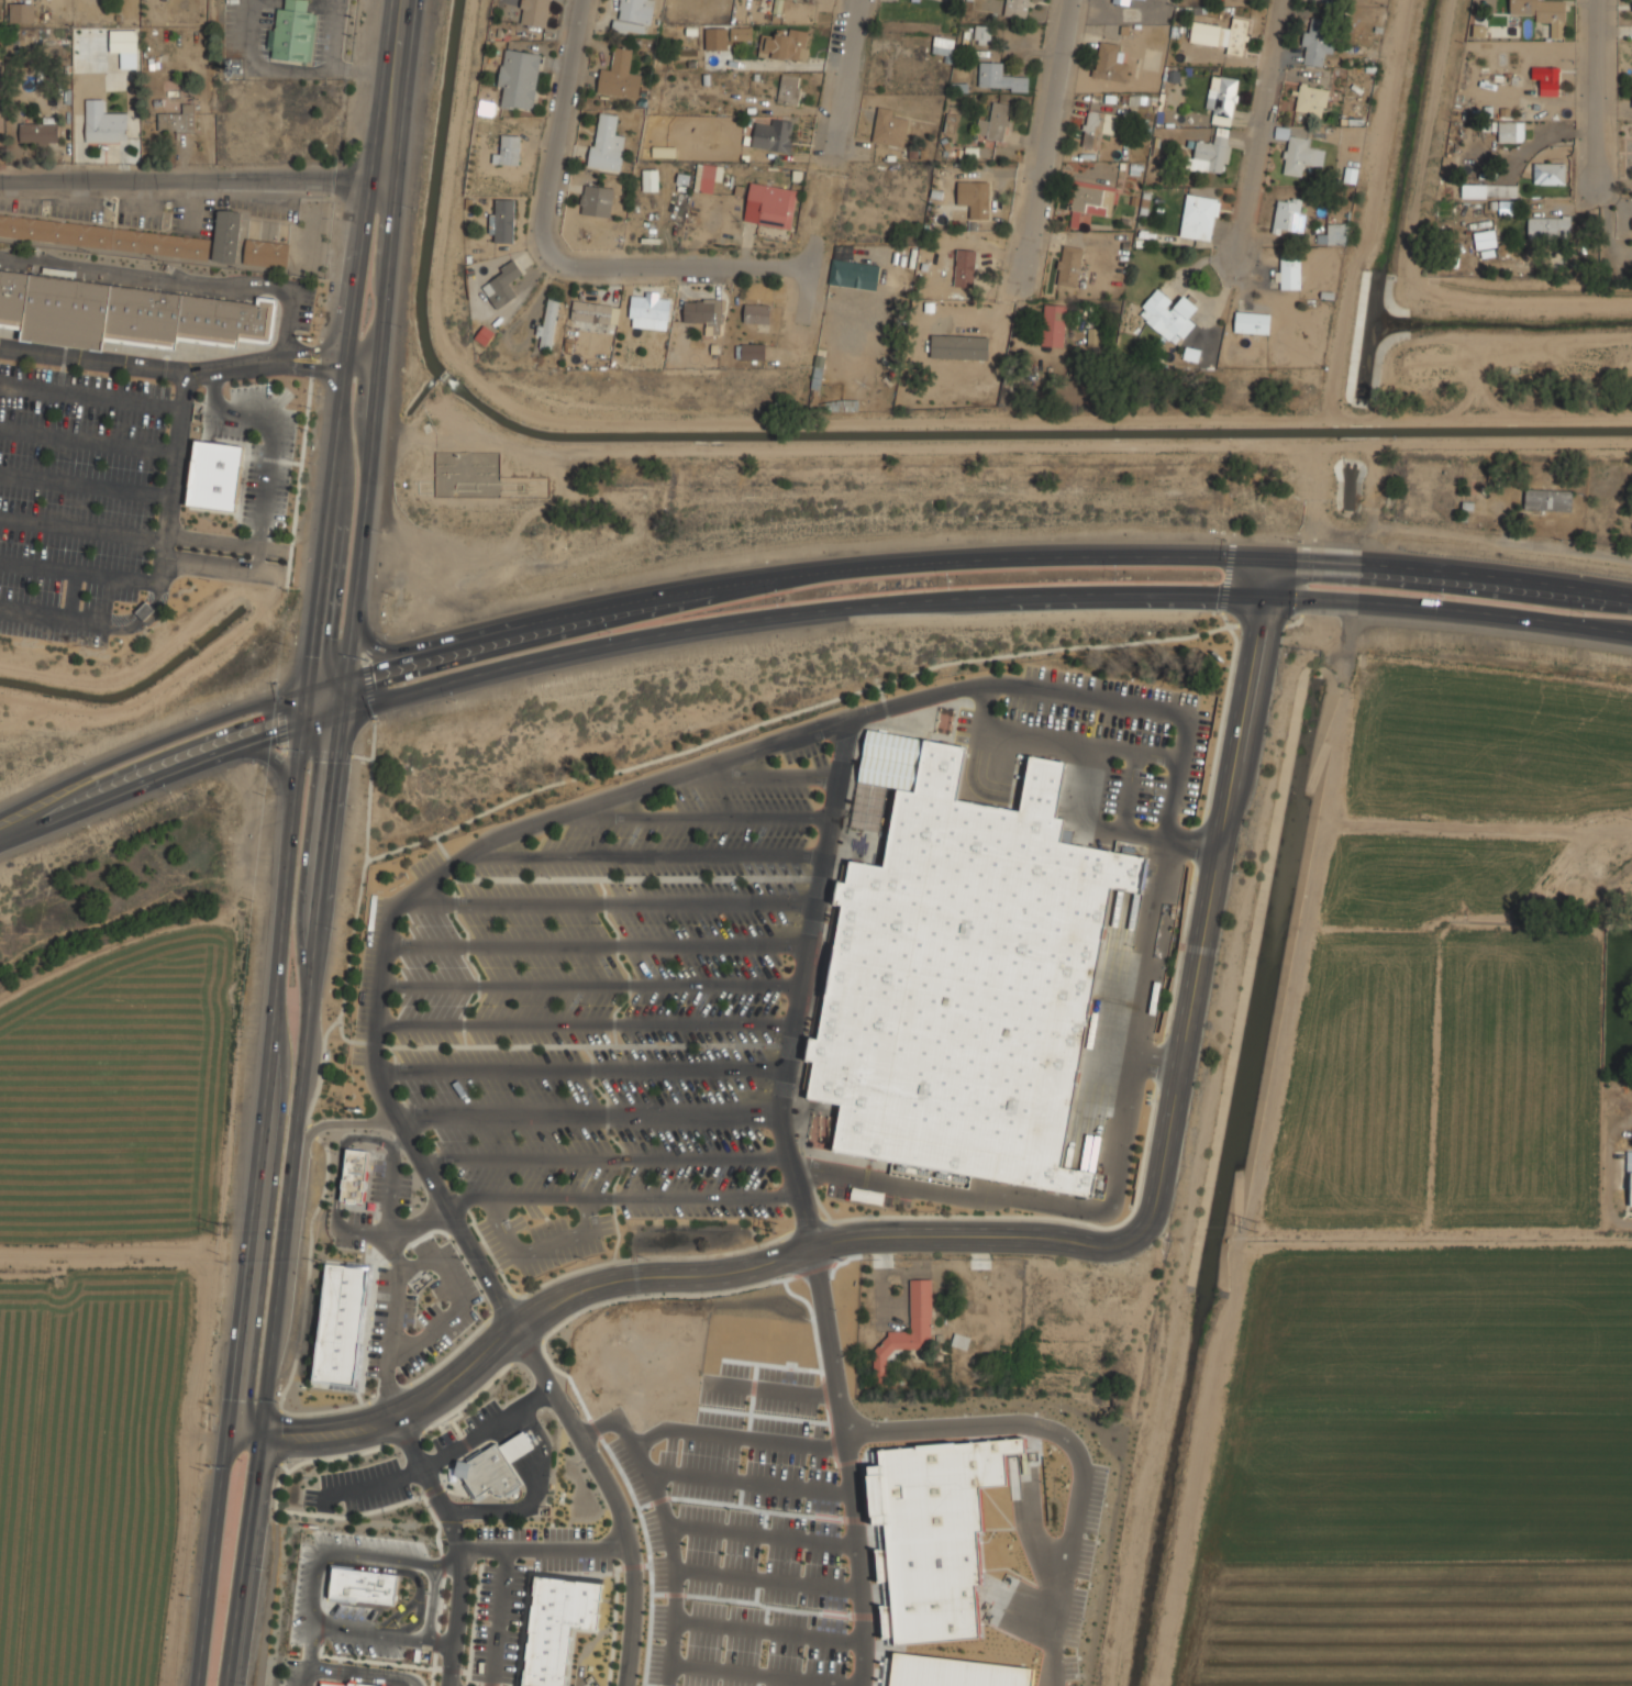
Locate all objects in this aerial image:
building: (914, 0)
building: (1121, 1)
building: (1017, 8)
building: (22, 11)
building: (534, 12)
building: (1543, 12)
building: (634, 15)
building: (293, 30)
building: (1204, 32)
building: (741, 33)
building: (982, 33)
building: (1237, 35)
building: (1317, 40)
building: (786, 44)
building: (943, 45)
building: (124, 46)
building: (1110, 62)
road: (569, 74)
building: (620, 75)
building: (1546, 75)
road: (844, 76)
building: (520, 77)
building: (1000, 77)
road: (390, 86)
building: (789, 88)
building: (1631, 95)
building: (1223, 97)
road: (1601, 97)
building: (1311, 100)
building: (176, 120)
building: (995, 121)
building: (890, 125)
building: (1099, 126)
road: (1048, 129)
building: (1507, 130)
building: (106, 131)
building: (37, 133)
building: (774, 134)
road: (1256, 134)
building: (606, 142)
building: (510, 147)
building: (1214, 149)
building: (1299, 152)
road: (190, 171)
building: (1550, 171)
building: (704, 178)
building: (650, 179)
building: (1489, 189)
building: (963, 192)
building: (1093, 197)
building: (979, 198)
building: (596, 199)
building: (773, 203)
building: (1506, 208)
building: (1199, 215)
building: (1288, 215)
building: (1075, 219)
building: (502, 220)
building: (1631, 223)
building: (1550, 226)
building: (1334, 233)
building: (130, 235)
building: (1485, 237)
building: (266, 252)
road: (635, 263)
building: (1068, 265)
building: (852, 268)
building: (964, 268)
building: (1288, 269)
road: (182, 279)
building: (501, 282)
building: (592, 311)
building: (650, 311)
building: (703, 311)
building: (756, 312)
building: (1168, 313)
building: (125, 314)
building: (548, 321)
building: (1252, 321)
building: (1054, 323)
building: (1092, 335)
building: (750, 351)
road: (304, 352)
building: (1190, 353)
road: (364, 356)
road: (62, 357)
road: (336, 357)
road: (304, 365)
road: (142, 367)
road: (164, 368)
road: (90, 398)
road: (373, 422)
road: (88, 442)
road: (335, 444)
road: (268, 453)
road: (269, 459)
road: (173, 469)
building: (214, 476)
road: (85, 484)
building: (1548, 499)
road: (81, 528)
road: (243, 545)
traffic signals: (1269, 556)
road: (242, 568)
road: (74, 569)
road: (1451, 570)
road: (156, 573)
road: (800, 573)
road: (1268, 575)
road: (70, 594)
traffic signals: (1267, 594)
road: (1450, 606)
building: (144, 610)
road: (146, 610)
road: (799, 612)
road: (53, 617)
road: (369, 644)
road: (371, 645)
traffic signals: (343, 675)
road: (326, 679)
traffic signals: (311, 684)
road: (368, 689)
road: (342, 692)
traffic signals: (342, 710)
parking lot: (1086, 713)
road: (324, 714)
road: (280, 716)
traffic signals: (307, 720)
road: (149, 743)
road: (1058, 743)
crop: (1490, 748)
road: (318, 753)
road: (277, 761)
road: (271, 764)
road: (766, 775)
road: (153, 778)
parking lot: (1152, 784)
road: (645, 788)
road: (1132, 791)
road: (699, 817)
road: (1089, 821)
road: (1378, 835)
road: (644, 856)
crop: (1433, 877)
road: (611, 900)
road: (1202, 916)
road: (596, 945)
building: (962, 968)
road: (803, 986)
road: (591, 987)
parking lot: (603, 1008)
road: (587, 1025)
building: (420, 1068)
road: (581, 1068)
road: (302, 1072)
crop: (1436, 1086)
crop: (121, 1096)
road: (592, 1118)
road: (401, 1143)
road: (342, 1156)
road: (608, 1160)
building: (354, 1175)
parking lot: (391, 1182)
road: (1115, 1184)
building: (1630, 1188)
parking lot: (871, 1190)
road: (390, 1196)
road: (624, 1197)
road: (256, 1202)
power tower: (774, 1227)
power tower: (221, 1228)
power tower: (1257, 1230)
parking lot: (356, 1232)
road: (399, 1232)
road: (542, 1250)
road: (681, 1279)
road: (460, 1307)
parking lot: (421, 1309)
road: (395, 1320)
building: (338, 1324)
building: (909, 1332)
road: (511, 1428)
parking lot: (471, 1429)
traffic signals: (233, 1431)
road: (246, 1432)
traffic signals: (260, 1434)
road: (499, 1435)
road: (743, 1439)
road: (1080, 1449)
road: (447, 1454)
road: (850, 1464)
building: (496, 1467)
road: (534, 1469)
crop: (90, 1472)
crop: (1421, 1473)
road: (429, 1482)
parking lot: (362, 1488)
road: (612, 1495)
road: (537, 1499)
road: (509, 1507)
road: (674, 1526)
building: (934, 1535)
parking lot: (536, 1539)
parking lot: (371, 1548)
road: (547, 1551)
road: (245, 1560)
parking lot: (576, 1560)
road: (418, 1577)
road: (315, 1586)
building: (362, 1588)
parking lot: (304, 1594)
road: (433, 1605)
road: (456, 1618)
road: (500, 1618)
road: (414, 1623)
parking lot: (500, 1623)
building: (557, 1627)
parking lot: (367, 1644)
road: (310, 1645)
road: (365, 1671)
building: (948, 1673)
road: (355, 1677)
building: (345, 1684)
building: (382, 1685)

